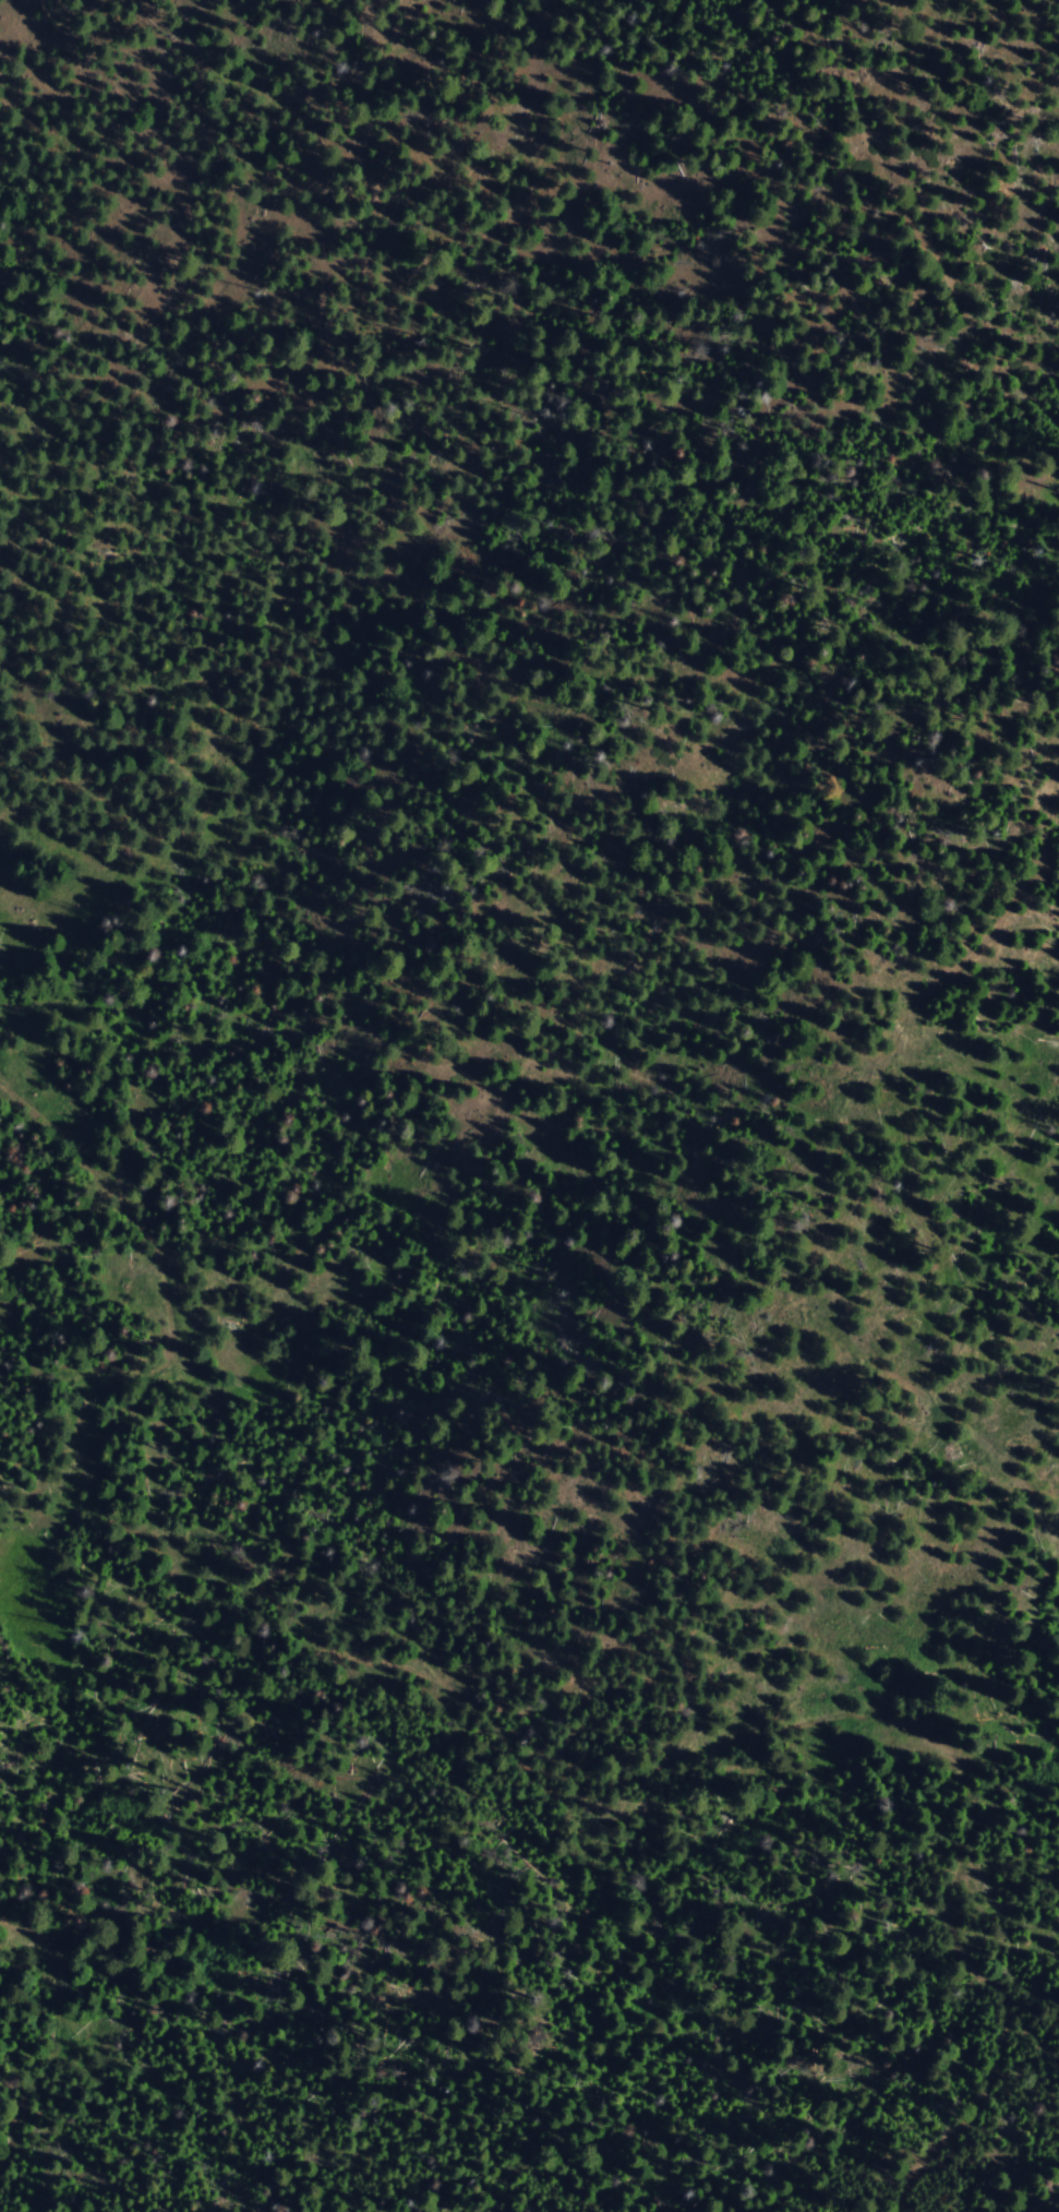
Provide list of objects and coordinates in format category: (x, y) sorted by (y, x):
road: (364, 1817)

